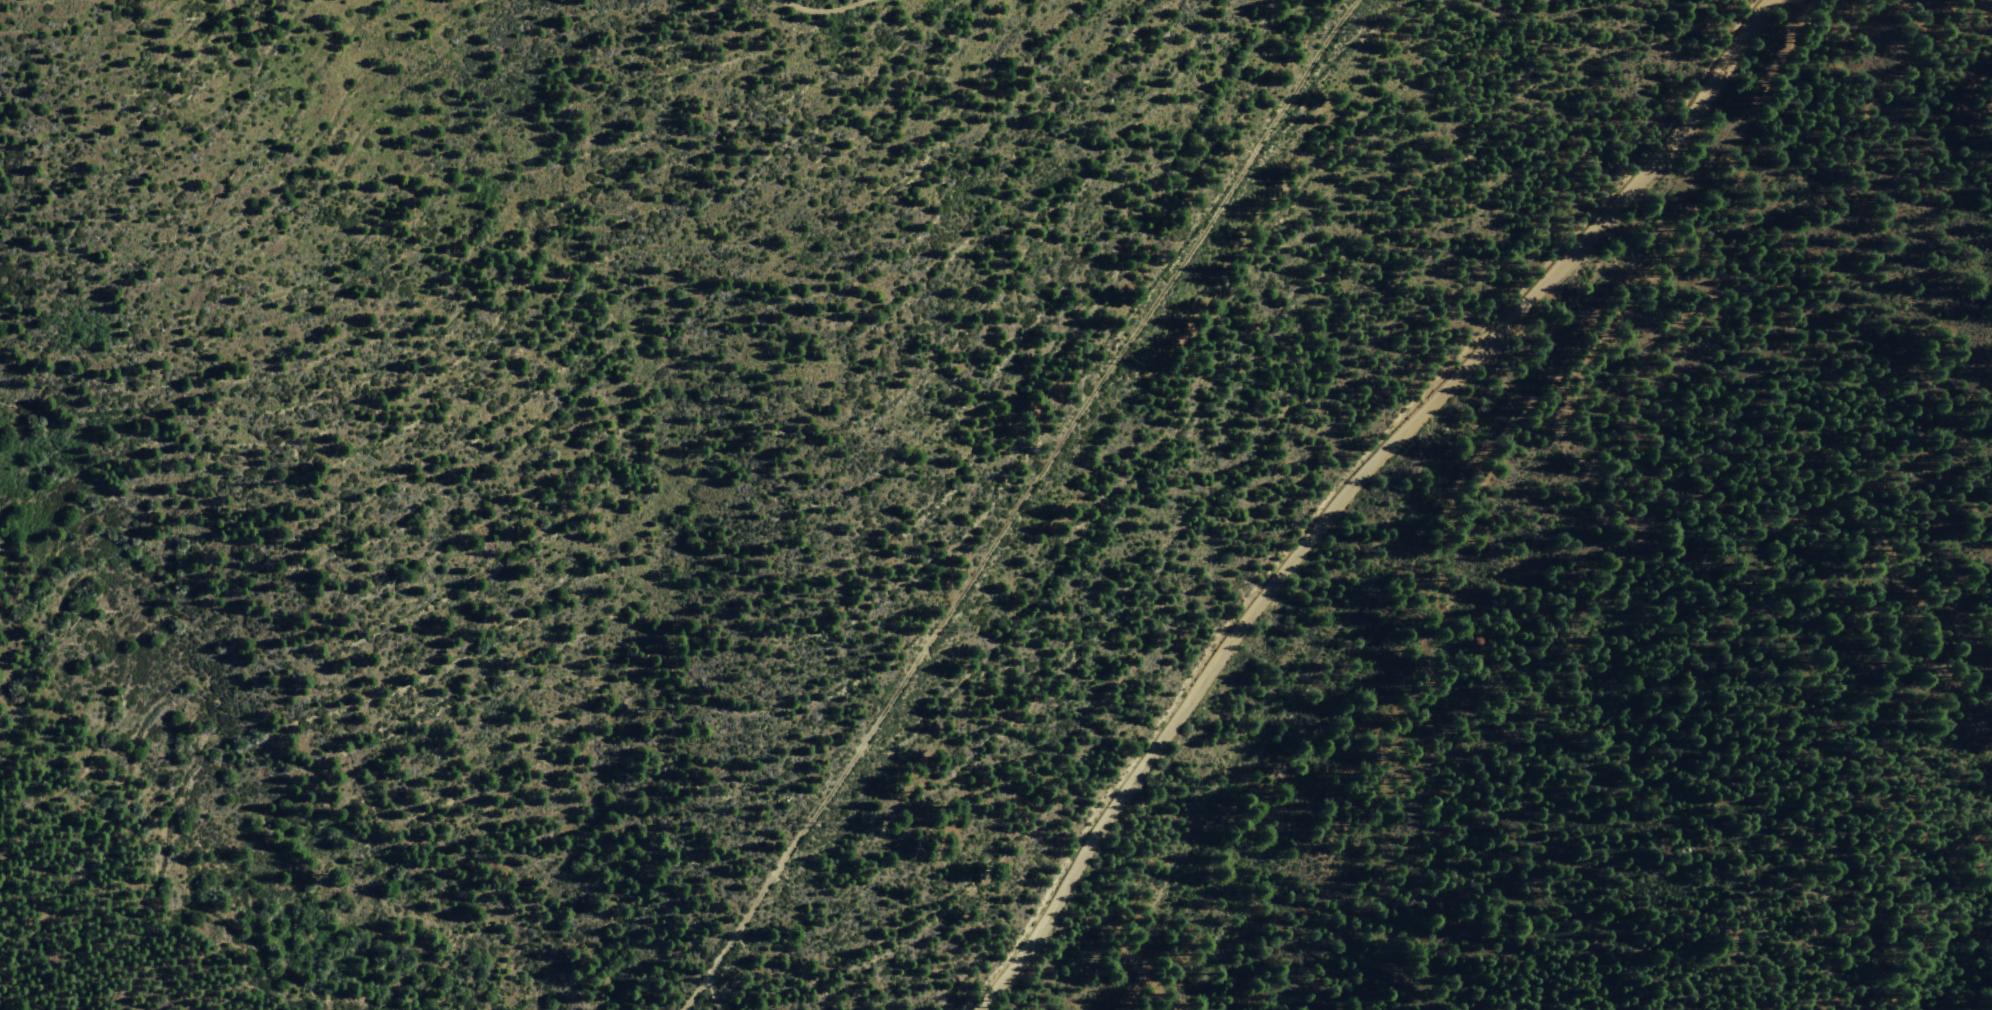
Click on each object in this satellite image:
road: (1987, 5)
road: (826, 11)
power tower: (1343, 32)
power tower: (1123, 360)
road: (1350, 488)
road: (1003, 501)
power tower: (943, 629)
power tower: (820, 826)

